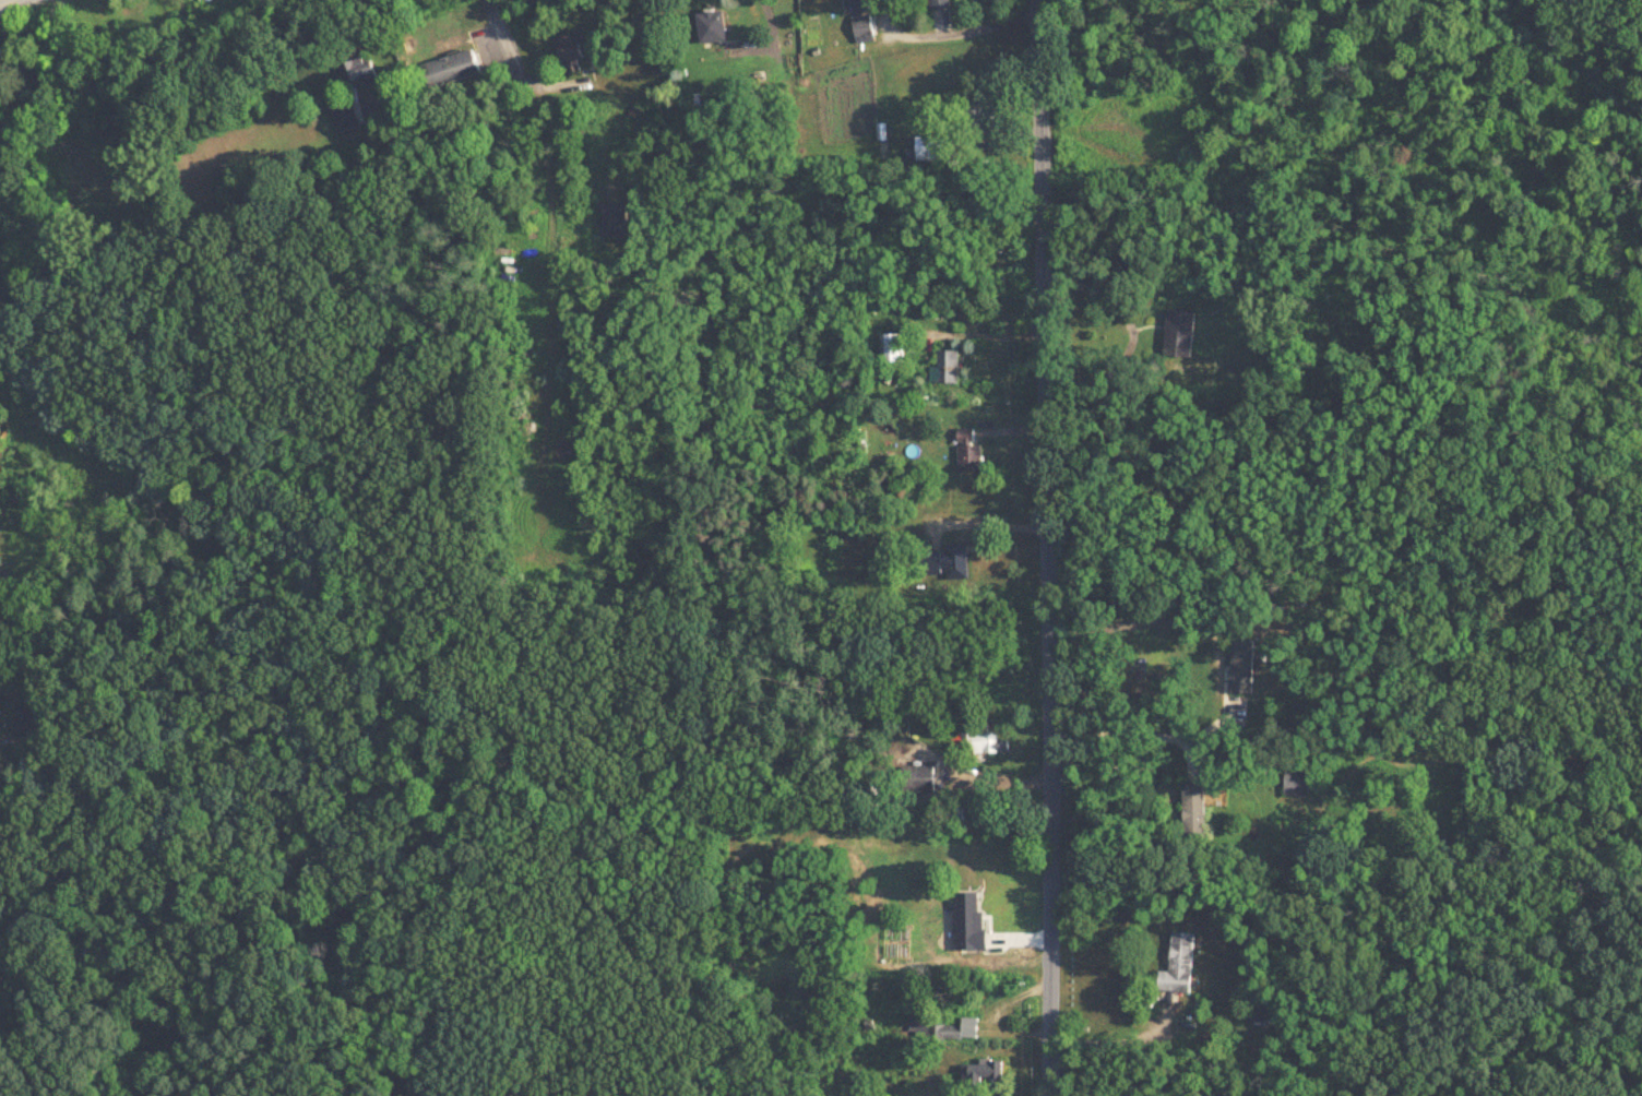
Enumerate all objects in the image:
road: (7, 2)
building: (944, 4)
building: (867, 27)
building: (717, 29)
road: (964, 31)
building: (425, 41)
building: (574, 53)
building: (0, 55)
building: (453, 71)
building: (364, 73)
building: (346, 115)
building: (985, 118)
road: (365, 131)
road: (540, 140)
building: (933, 148)
building: (1185, 332)
road: (1131, 342)
building: (895, 349)
building: (950, 368)
building: (968, 437)
building: (972, 458)
building: (20, 500)
road: (981, 523)
road: (1047, 547)
building: (956, 562)
building: (1245, 667)
building: (0, 700)
building: (894, 725)
road: (1149, 736)
building: (984, 741)
building: (920, 777)
building: (1299, 784)
building: (1197, 812)
building: (926, 910)
building: (993, 913)
building: (1182, 965)
building: (2, 981)
building: (947, 1032)
road: (1130, 1044)
building: (985, 1073)

